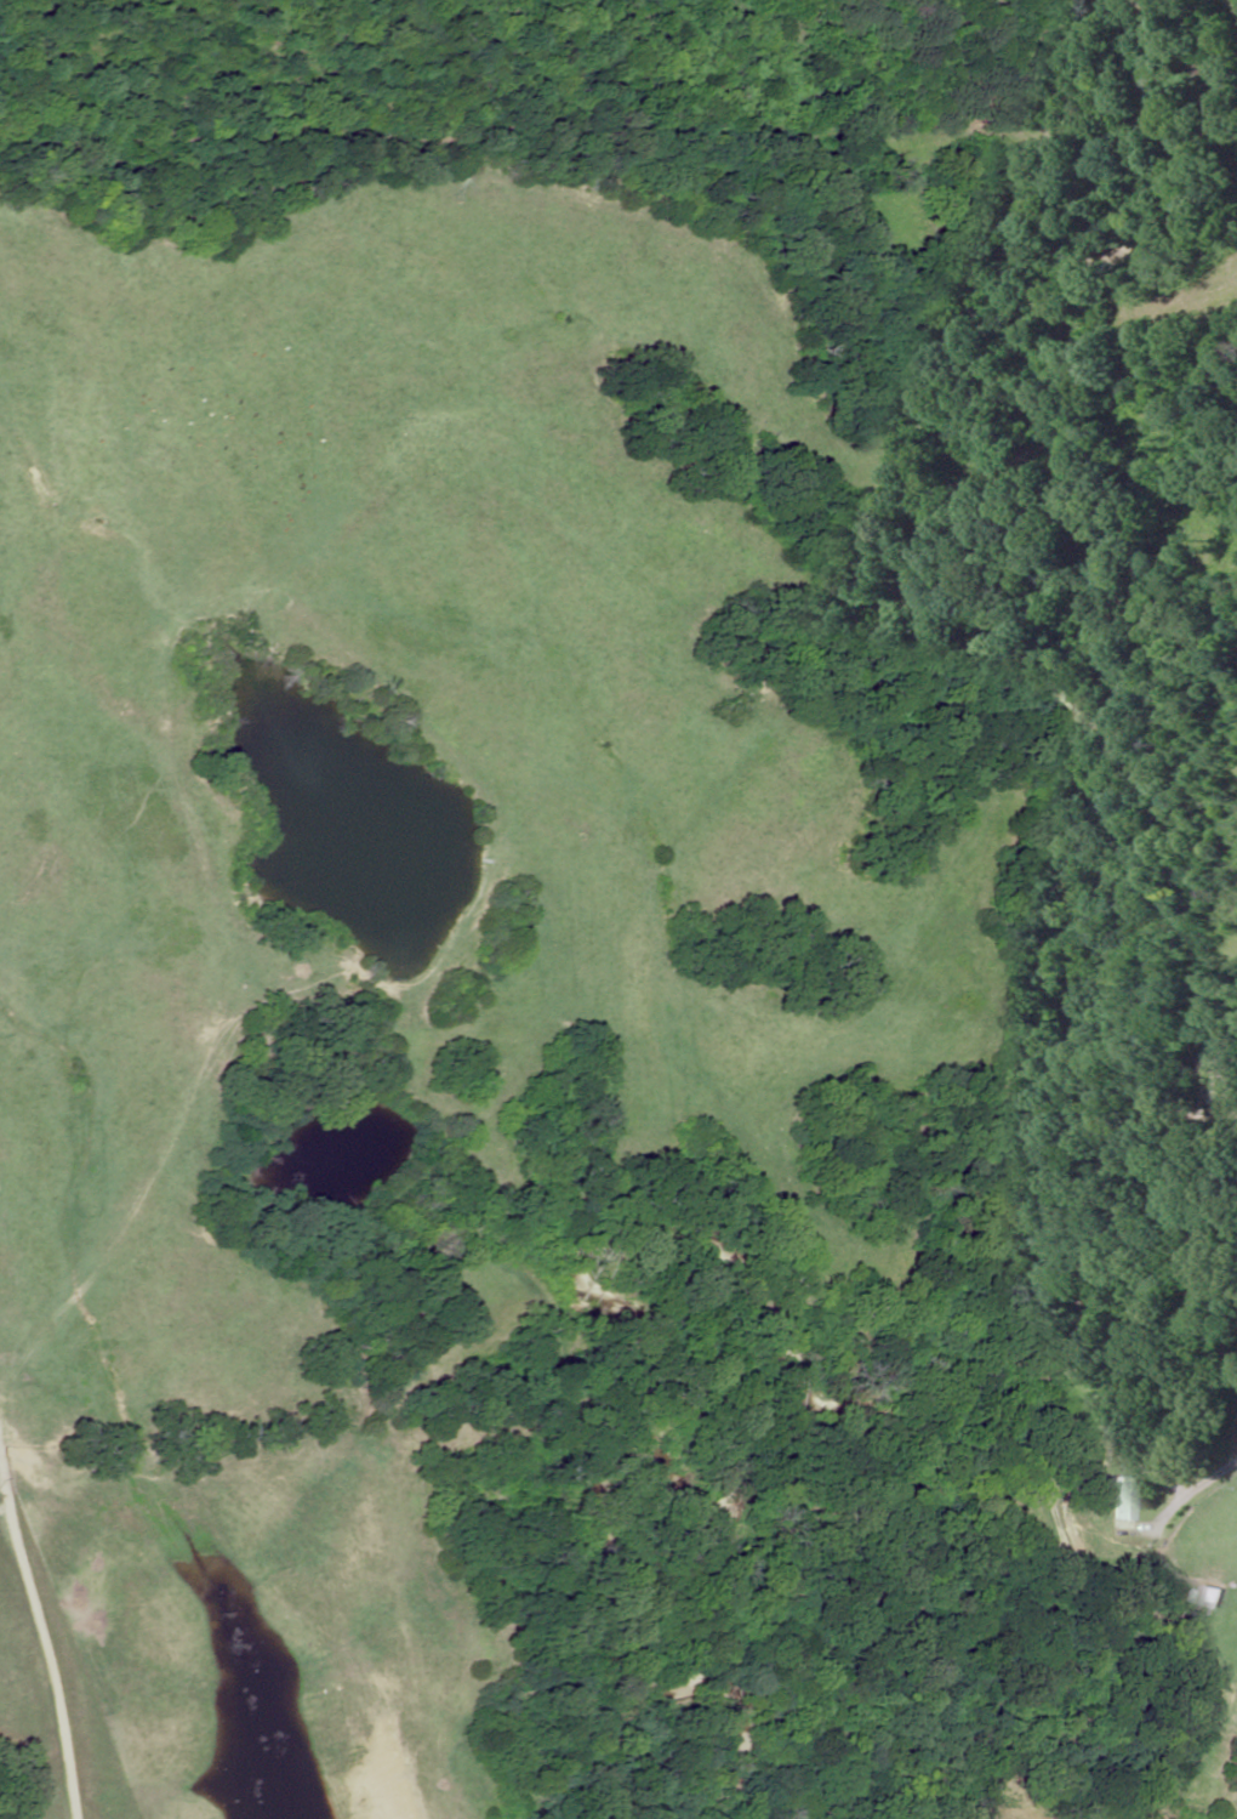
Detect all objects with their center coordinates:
building: (1222, 1078)
building: (1203, 1109)
building: (1118, 1499)
building: (1041, 1525)
building: (1209, 1615)

